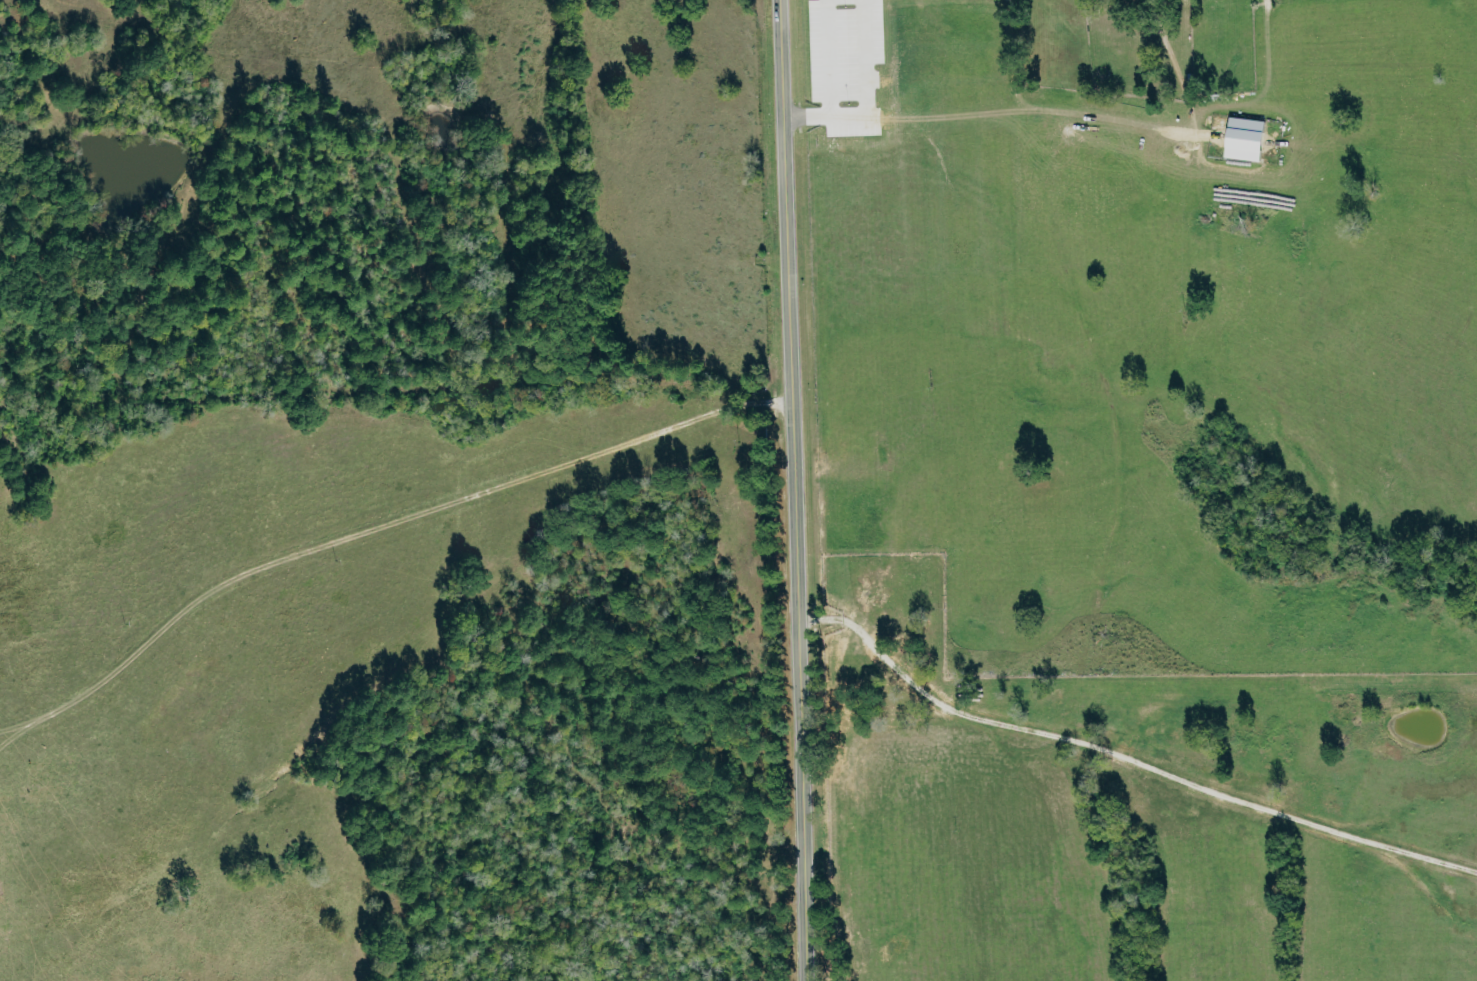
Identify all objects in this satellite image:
building: (1250, 138)
road: (793, 490)

